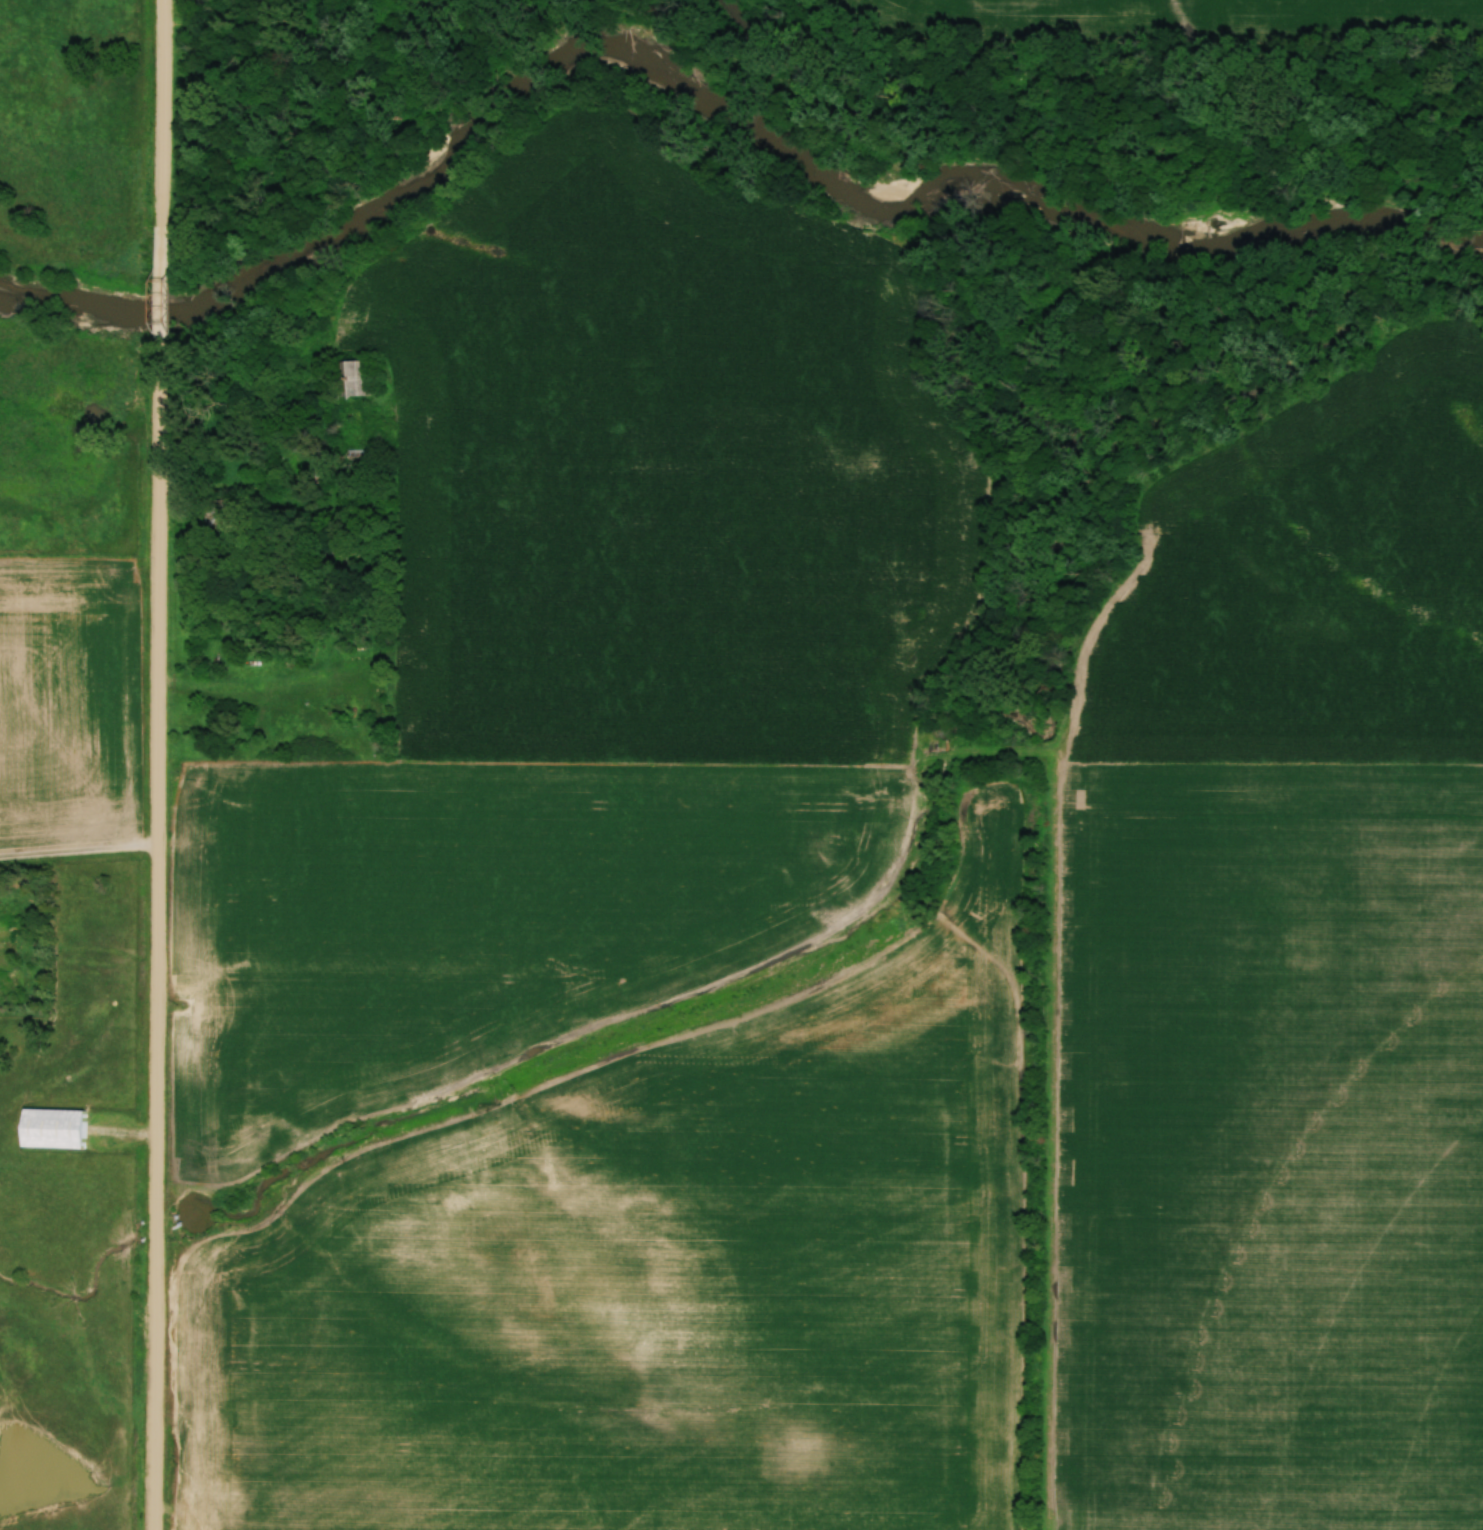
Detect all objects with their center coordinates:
road: (162, 113)
road: (161, 291)
building: (359, 378)
road: (264, 680)
road: (80, 847)
road: (160, 942)
building: (54, 1128)

